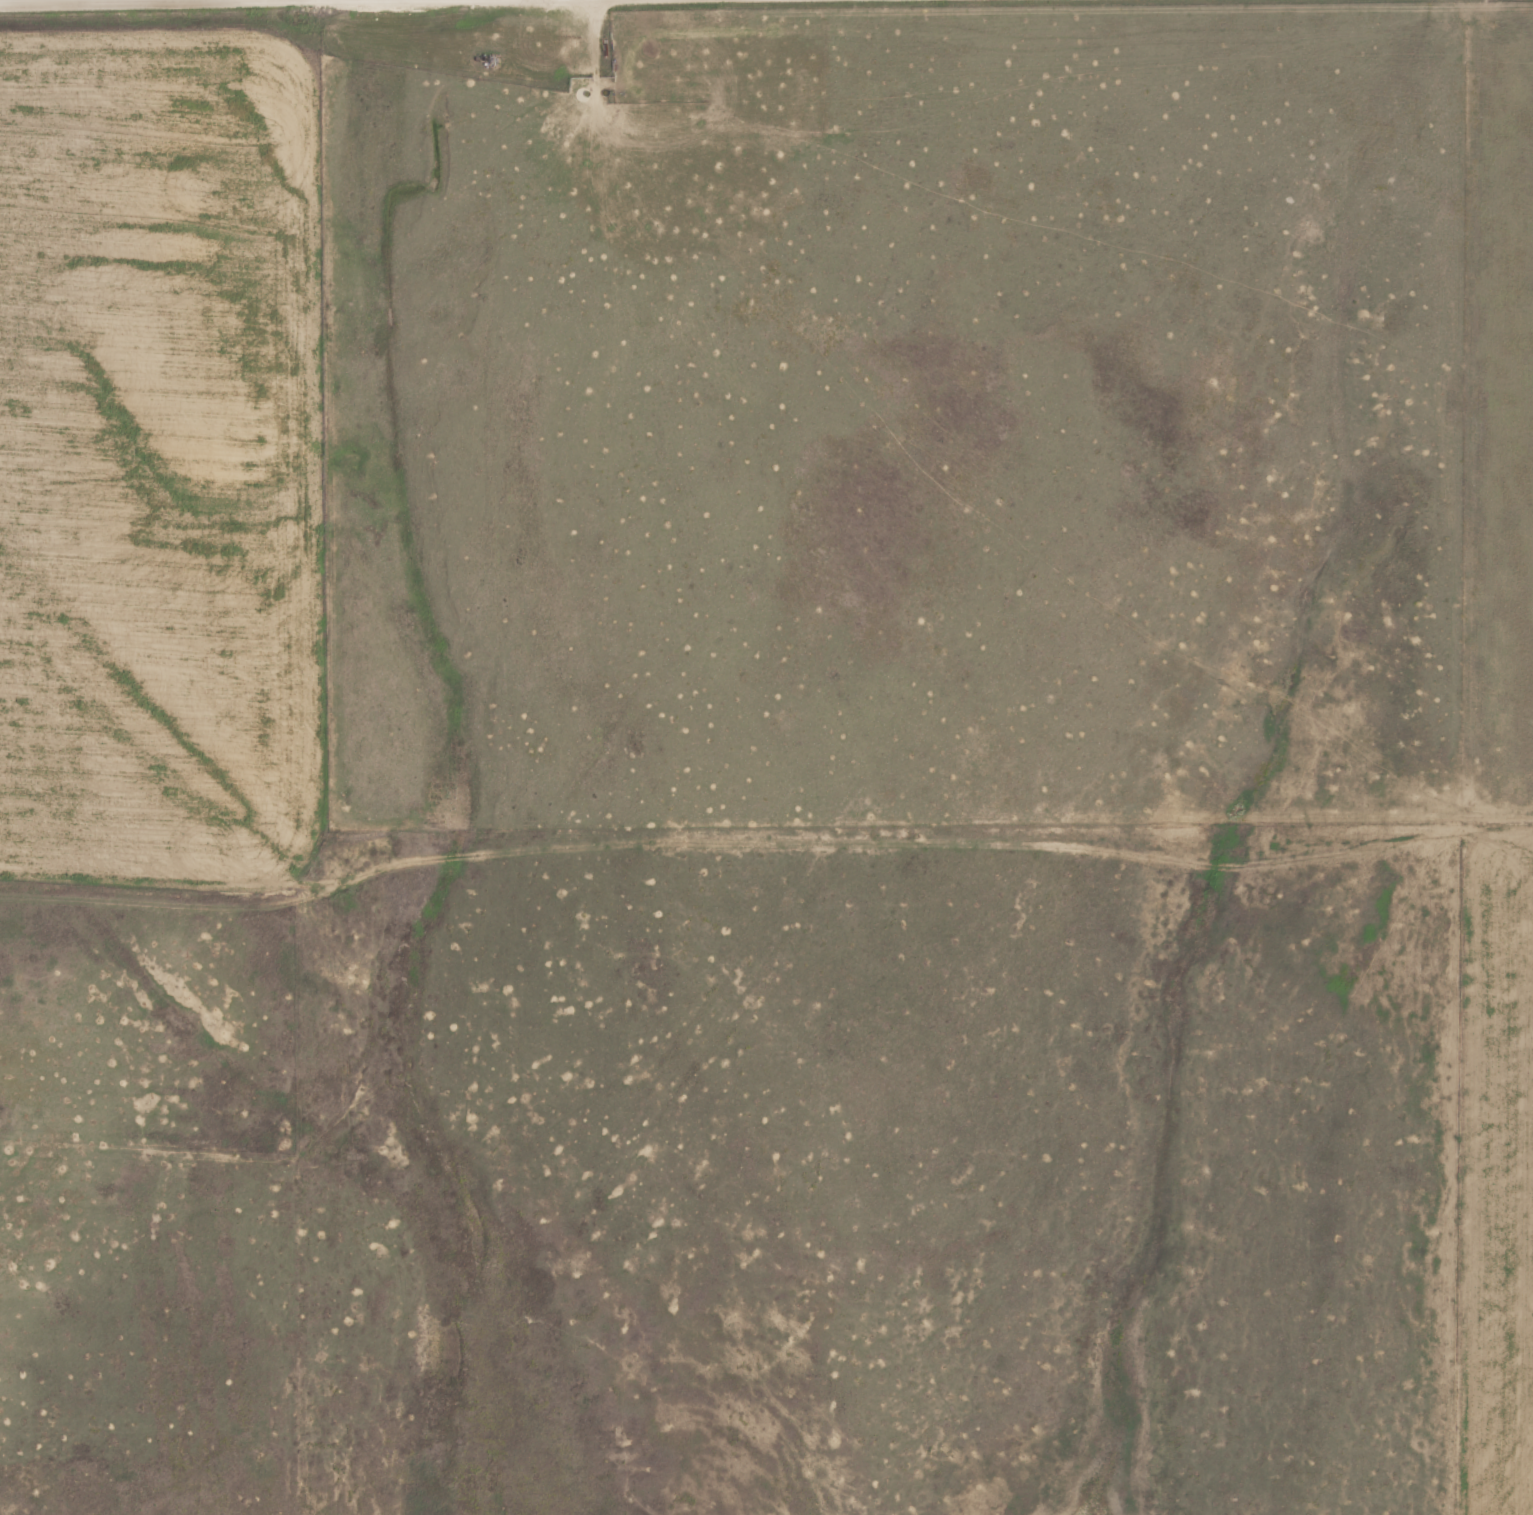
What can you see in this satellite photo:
road: (375, 3)

